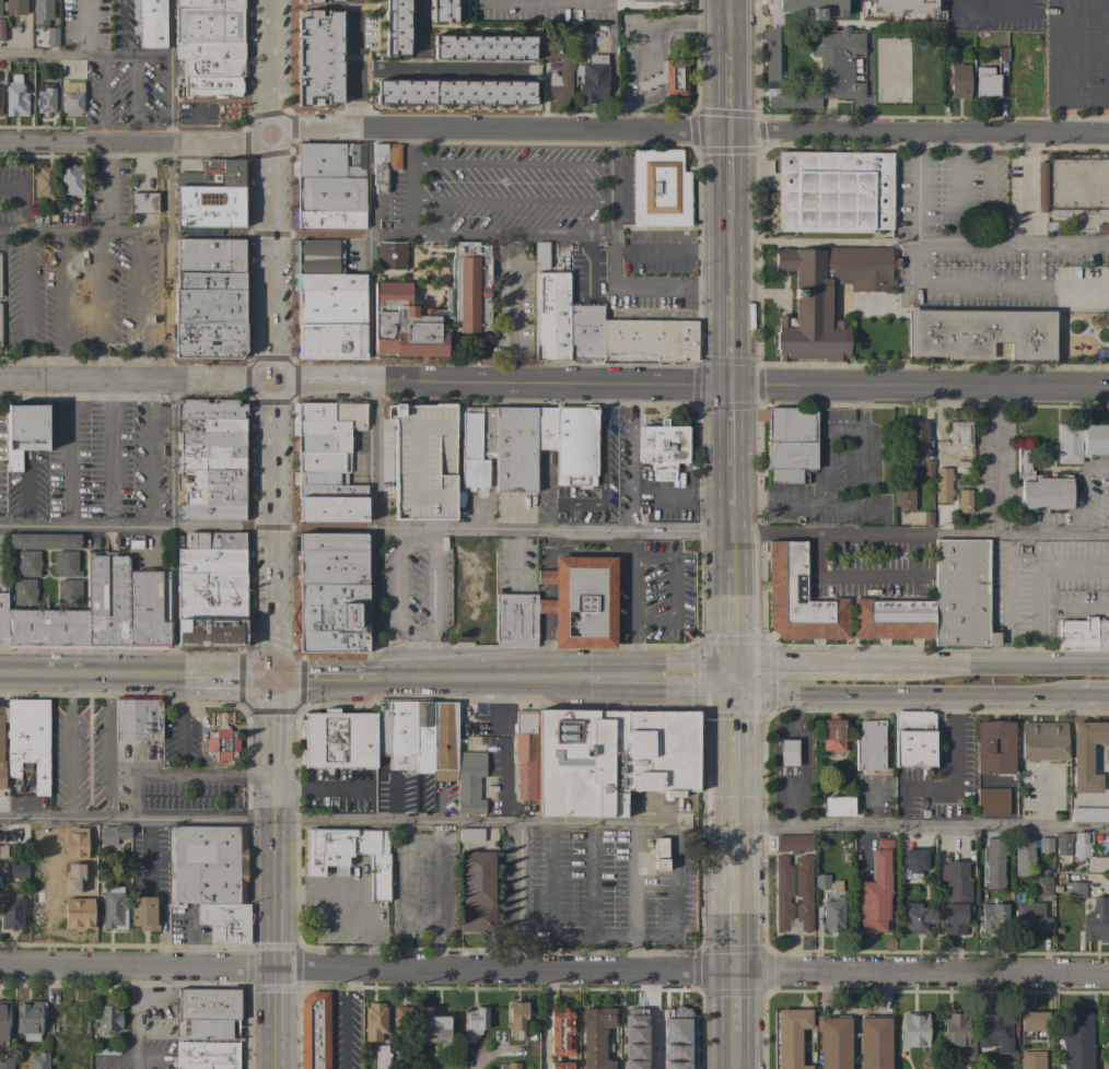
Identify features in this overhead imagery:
road: (581, 0)
building: (658, 0)
building: (311, 1)
building: (332, 1)
building: (15, 7)
building: (902, 7)
road: (987, 9)
building: (442, 10)
building: (42, 13)
building: (152, 24)
road: (727, 26)
road: (120, 27)
building: (395, 27)
building: (1, 30)
building: (52, 37)
building: (582, 37)
building: (210, 46)
building: (482, 47)
road: (291, 54)
building: (946, 54)
road: (117, 55)
building: (814, 55)
building: (1002, 55)
road: (50, 56)
building: (318, 57)
road: (358, 63)
road: (610, 64)
road: (1063, 64)
road: (1102, 64)
road: (439, 69)
road: (388, 70)
road: (167, 71)
building: (564, 73)
building: (667, 78)
building: (593, 79)
building: (958, 81)
building: (985, 83)
building: (454, 92)
road: (727, 93)
building: (45, 97)
building: (71, 98)
road: (101, 98)
road: (133, 98)
building: (15, 99)
building: (0, 101)
road: (688, 131)
traffic signals: (727, 132)
road: (133, 142)
building: (330, 149)
road: (247, 156)
road: (511, 162)
building: (384, 164)
building: (327, 165)
building: (215, 174)
road: (727, 174)
road: (409, 180)
building: (71, 181)
building: (45, 183)
road: (106, 186)
building: (1041, 186)
road: (914, 187)
building: (659, 188)
road: (956, 188)
road: (988, 188)
building: (833, 192)
road: (23, 197)
road: (512, 199)
road: (166, 201)
building: (143, 202)
building: (330, 202)
building: (210, 209)
building: (1102, 228)
road: (98, 231)
road: (11, 232)
road: (42, 233)
road: (512, 236)
road: (672, 250)
road: (369, 254)
building: (541, 255)
building: (209, 256)
building: (388, 256)
road: (729, 256)
building: (317, 257)
road: (914, 261)
road: (612, 267)
building: (328, 283)
building: (826, 296)
building: (211, 298)
building: (467, 302)
road: (22, 304)
road: (100, 304)
road: (138, 304)
road: (166, 304)
road: (62, 305)
building: (328, 308)
road: (513, 308)
building: (551, 316)
building: (585, 332)
building: (979, 333)
road: (272, 339)
road: (731, 339)
building: (210, 340)
building: (649, 340)
building: (331, 341)
road: (136, 377)
traffic signals: (273, 378)
road: (691, 380)
building: (209, 409)
building: (326, 425)
building: (211, 426)
road: (841, 426)
building: (546, 427)
building: (24, 432)
building: (959, 434)
building: (211, 439)
building: (915, 440)
building: (1081, 442)
building: (476, 443)
road: (861, 443)
road: (733, 444)
building: (790, 444)
building: (575, 447)
building: (515, 448)
building: (663, 448)
road: (65, 451)
road: (109, 451)
road: (149, 451)
building: (211, 451)
road: (604, 455)
road: (630, 456)
road: (992, 459)
parking lot: (421, 461)
building: (323, 462)
building: (424, 462)
parking lot: (424, 462)
building: (211, 463)
road: (821, 465)
building: (319, 479)
building: (942, 485)
building: (1040, 486)
building: (211, 487)
building: (314, 491)
building: (903, 495)
road: (808, 501)
building: (964, 501)
road: (553, 503)
building: (331, 508)
building: (210, 513)
road: (137, 526)
road: (666, 531)
road: (734, 538)
building: (44, 540)
building: (215, 540)
building: (329, 541)
road: (815, 554)
road: (915, 554)
building: (330, 559)
building: (210, 561)
road: (632, 561)
building: (27, 563)
building: (66, 564)
building: (330, 576)
road: (865, 576)
road: (544, 577)
building: (210, 589)
road: (673, 590)
building: (24, 591)
building: (69, 591)
road: (544, 591)
building: (331, 592)
building: (961, 594)
building: (799, 598)
building: (107, 600)
building: (581, 600)
road: (1006, 600)
road: (1035, 600)
road: (433, 606)
road: (544, 606)
road: (400, 607)
building: (148, 609)
building: (210, 611)
building: (3, 619)
building: (892, 619)
building: (515, 621)
building: (330, 626)
building: (46, 629)
road: (735, 631)
building: (211, 633)
building: (1076, 634)
building: (1101, 635)
road: (544, 648)
road: (680, 662)
traffic signals: (736, 663)
road: (808, 665)
road: (995, 666)
road: (90, 678)
road: (227, 679)
traffic signals: (275, 680)
road: (322, 680)
road: (478, 680)
road: (609, 680)
road: (682, 691)
road: (180, 692)
road: (190, 692)
traffic signals: (737, 693)
road: (907, 695)
road: (1094, 697)
building: (138, 718)
road: (275, 723)
building: (396, 732)
building: (832, 735)
road: (180, 736)
building: (422, 736)
building: (444, 736)
building: (338, 739)
road: (201, 740)
building: (914, 740)
building: (1, 741)
building: (1043, 741)
building: (221, 743)
building: (26, 745)
building: (869, 747)
building: (994, 748)
road: (69, 749)
road: (108, 749)
building: (787, 752)
building: (525, 753)
building: (1087, 755)
building: (611, 759)
road: (182, 771)
road: (222, 771)
road: (203, 776)
building: (469, 783)
road: (320, 792)
road: (132, 798)
building: (992, 801)
building: (838, 806)
building: (1089, 814)
road: (336, 821)
road: (922, 825)
building: (114, 833)
building: (470, 835)
building: (46, 837)
building: (793, 843)
building: (1062, 844)
building: (1082, 844)
building: (1044, 845)
building: (659, 854)
building: (349, 855)
building: (1023, 855)
building: (90, 856)
building: (844, 858)
building: (912, 862)
building: (994, 862)
building: (208, 864)
road: (149, 865)
building: (1, 868)
building: (17, 870)
building: (955, 879)
road: (735, 881)
building: (803, 881)
building: (826, 882)
building: (1042, 886)
building: (908, 888)
building: (876, 889)
building: (1074, 890)
building: (476, 892)
road: (311, 896)
road: (437, 897)
road: (517, 898)
building: (44, 900)
road: (635, 900)
building: (114, 908)
building: (142, 911)
building: (11, 912)
building: (832, 915)
road: (277, 916)
building: (914, 916)
building: (954, 917)
building: (993, 917)
building: (1030, 917)
building: (1095, 921)
building: (225, 923)
road: (380, 925)
road: (576, 932)
road: (162, 937)
road: (138, 971)
road: (692, 975)
road: (163, 977)
road: (159, 1001)
building: (210, 1003)
building: (107, 1018)
building: (28, 1019)
road: (133, 1019)
building: (3, 1020)
building: (516, 1020)
road: (345, 1021)
building: (401, 1021)
building: (1034, 1021)
building: (374, 1022)
building: (474, 1024)
building: (70, 1025)
building: (206, 1027)
building: (670, 1027)
building: (434, 1029)
building: (913, 1030)
building: (1104, 1030)
building: (314, 1031)
building: (633, 1031)
building: (560, 1032)
building: (994, 1032)
building: (957, 1034)
building: (529, 1036)
building: (595, 1037)
building: (791, 1037)
building: (1075, 1041)
building: (874, 1052)
building: (206, 1055)
building: (381, 1057)
building: (38, 1060)
building: (1032, 1060)
building: (649, 1061)
building: (5, 1062)
building: (1105, 1062)
building: (509, 1066)
building: (561, 1066)

